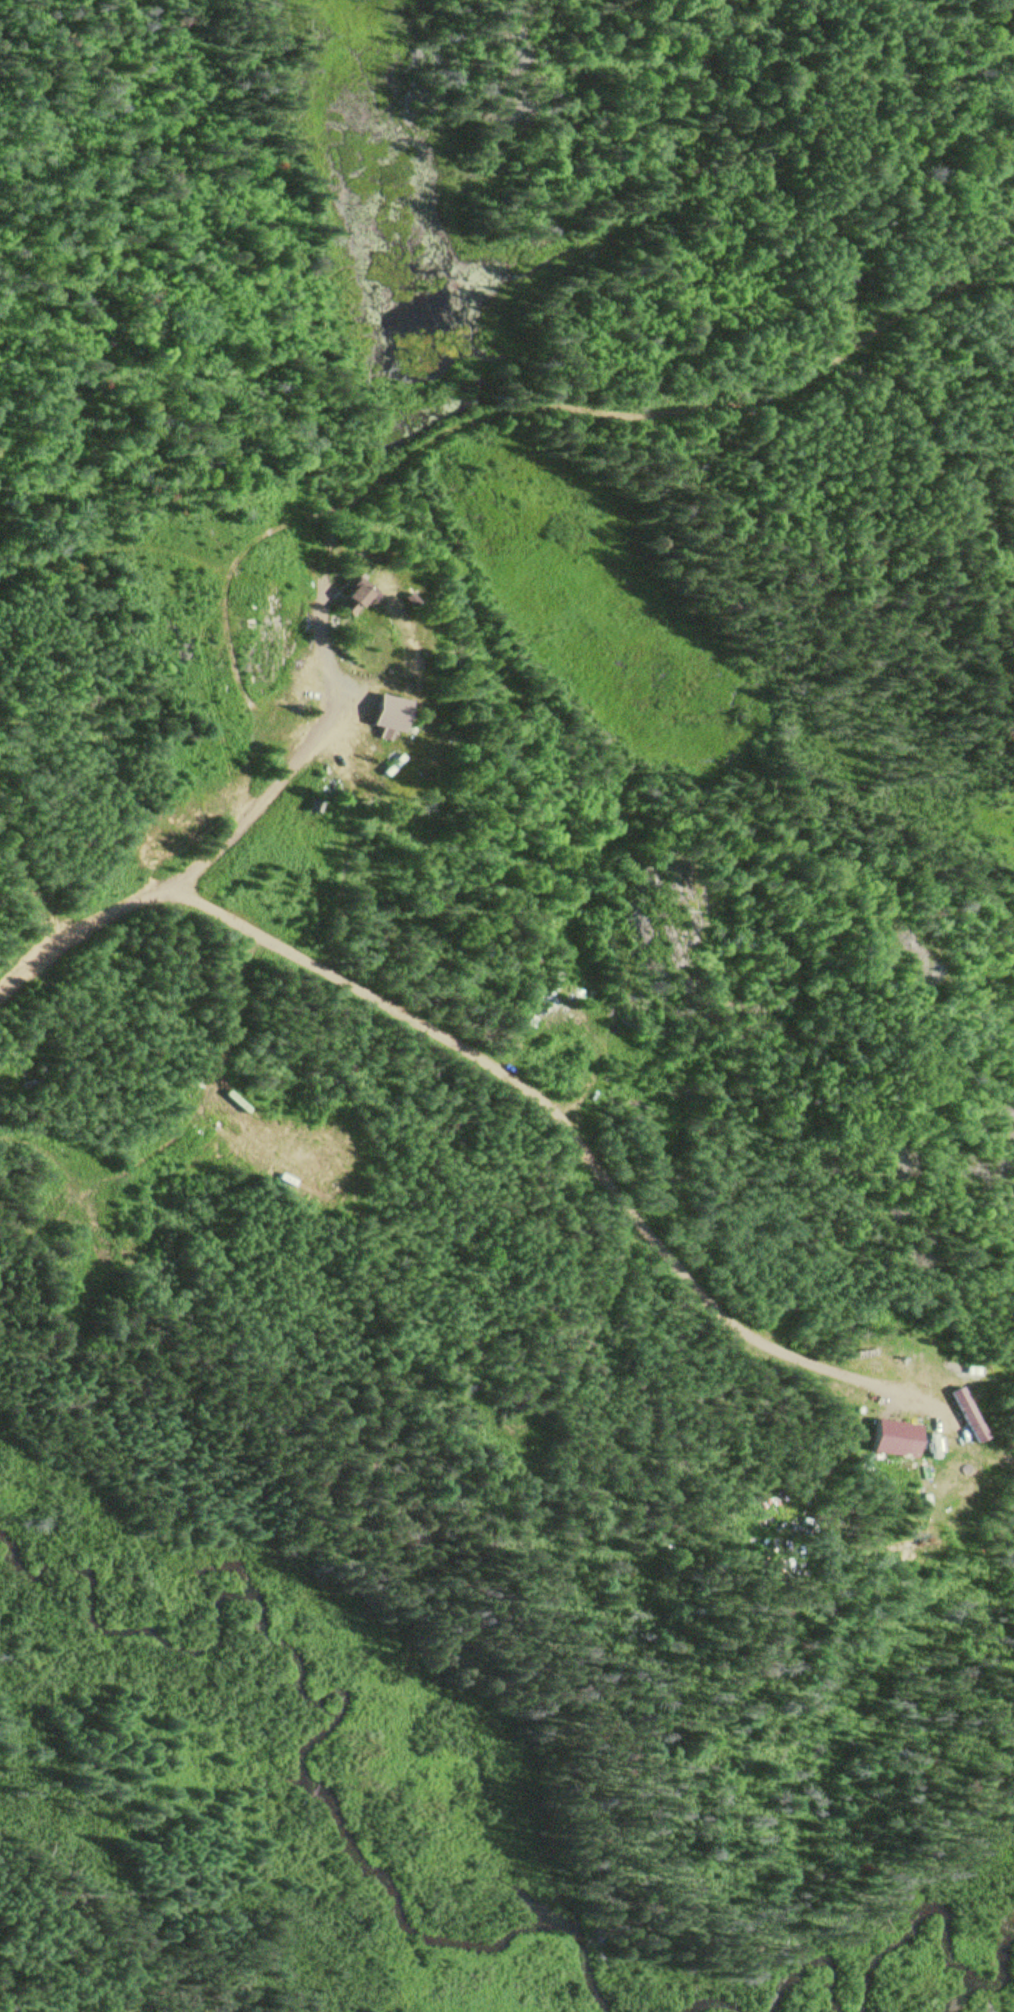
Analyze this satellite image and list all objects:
building: (348, 596)
building: (386, 712)
road: (200, 879)
building: (545, 991)
road: (381, 1012)
building: (203, 1125)
building: (249, 1154)
building: (893, 1441)
building: (946, 1454)

